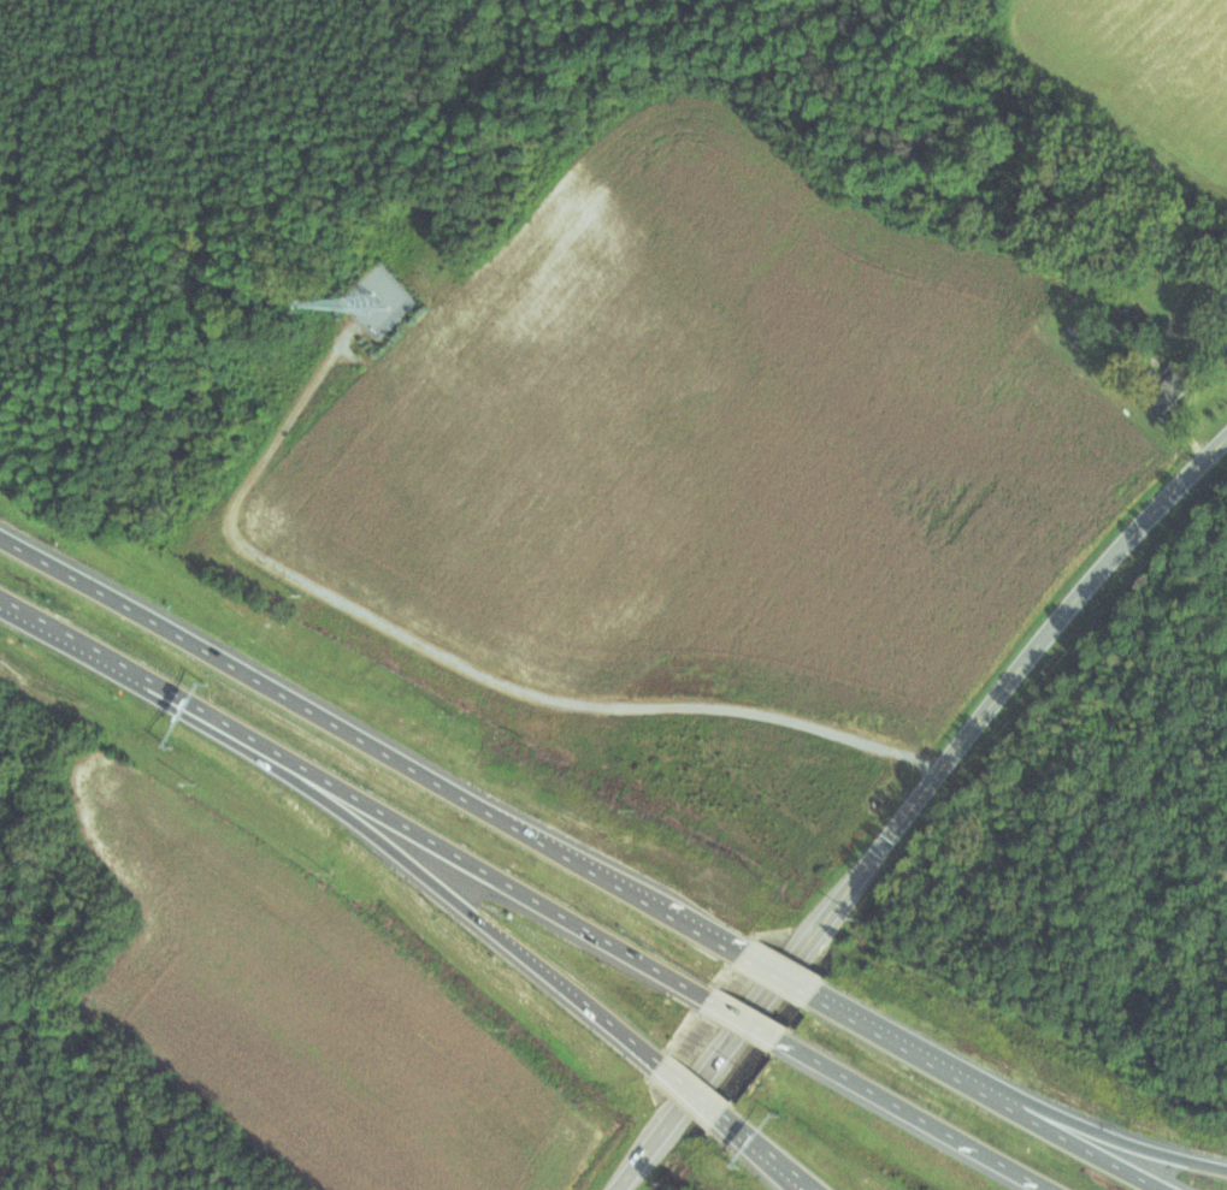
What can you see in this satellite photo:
building: (1223, 337)
building: (1168, 390)
road: (118, 662)
road: (318, 714)
road: (912, 804)
road: (476, 863)
road: (452, 895)
road: (692, 924)
road: (783, 975)
road: (750, 1017)
road: (912, 1048)
road: (697, 1087)
road: (921, 1113)
road: (1115, 1137)
road: (1085, 1144)
road: (769, 1150)
road: (777, 1150)
road: (1168, 1188)

